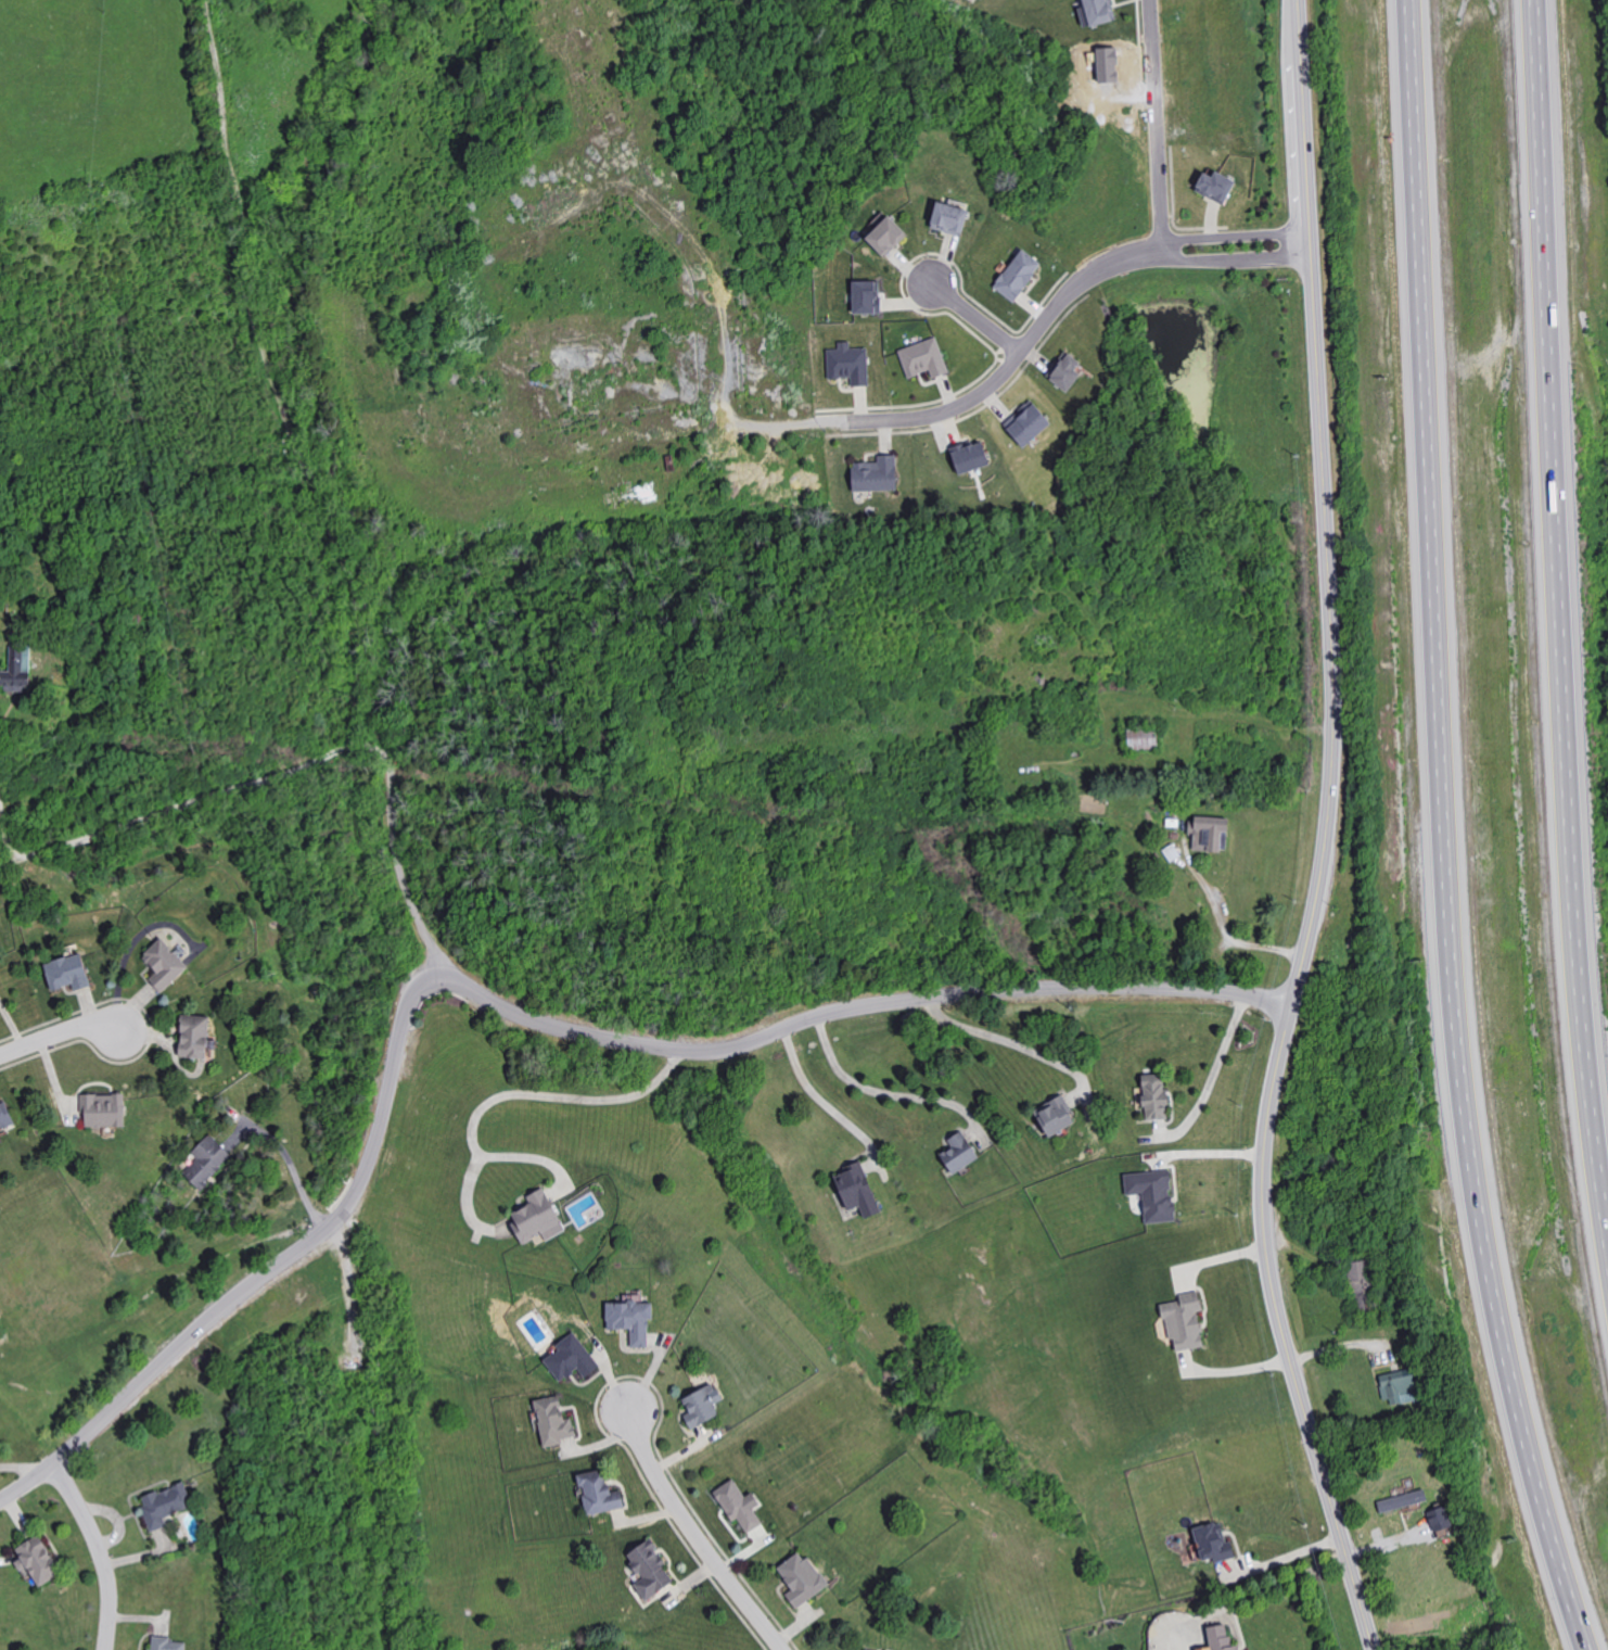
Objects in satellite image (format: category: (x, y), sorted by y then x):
building: (1100, 11)
road: (1156, 124)
road: (224, 149)
building: (1216, 186)
building: (950, 218)
building: (888, 236)
road: (1236, 238)
road: (1235, 261)
building: (1019, 275)
road: (1080, 285)
building: (867, 296)
road: (975, 317)
building: (924, 358)
building: (850, 364)
building: (1068, 372)
road: (944, 412)
building: (1029, 423)
building: (971, 457)
building: (876, 474)
road: (321, 518)
road: (1559, 619)
building: (18, 670)
building: (1144, 738)
road: (176, 803)
road: (9, 829)
road: (1443, 832)
building: (1211, 834)
road: (1326, 835)
road: (395, 856)
road: (1229, 931)
road: (131, 942)
building: (165, 965)
building: (67, 973)
road: (56, 1036)
building: (194, 1037)
road: (1006, 1040)
road: (731, 1044)
road: (1214, 1070)
road: (512, 1091)
road: (882, 1092)
road: (817, 1096)
building: (1156, 1096)
building: (104, 1110)
building: (4, 1116)
building: (1057, 1116)
building: (960, 1154)
building: (207, 1162)
road: (294, 1165)
building: (858, 1190)
building: (1153, 1194)
building: (538, 1219)
building: (1360, 1286)
building: (633, 1318)
building: (1185, 1322)
road: (169, 1358)
building: (572, 1358)
building: (1401, 1387)
building: (703, 1404)
building: (553, 1421)
road: (23, 1465)
building: (600, 1492)
building: (1403, 1500)
building: (166, 1503)
building: (740, 1505)
building: (1441, 1518)
road: (693, 1535)
building: (1214, 1541)
road: (99, 1551)
road: (1287, 1557)
building: (38, 1560)
building: (650, 1569)
building: (803, 1578)
road: (1285, 1583)
building: (1222, 1638)
building: (167, 1643)
building: (869, 1649)

